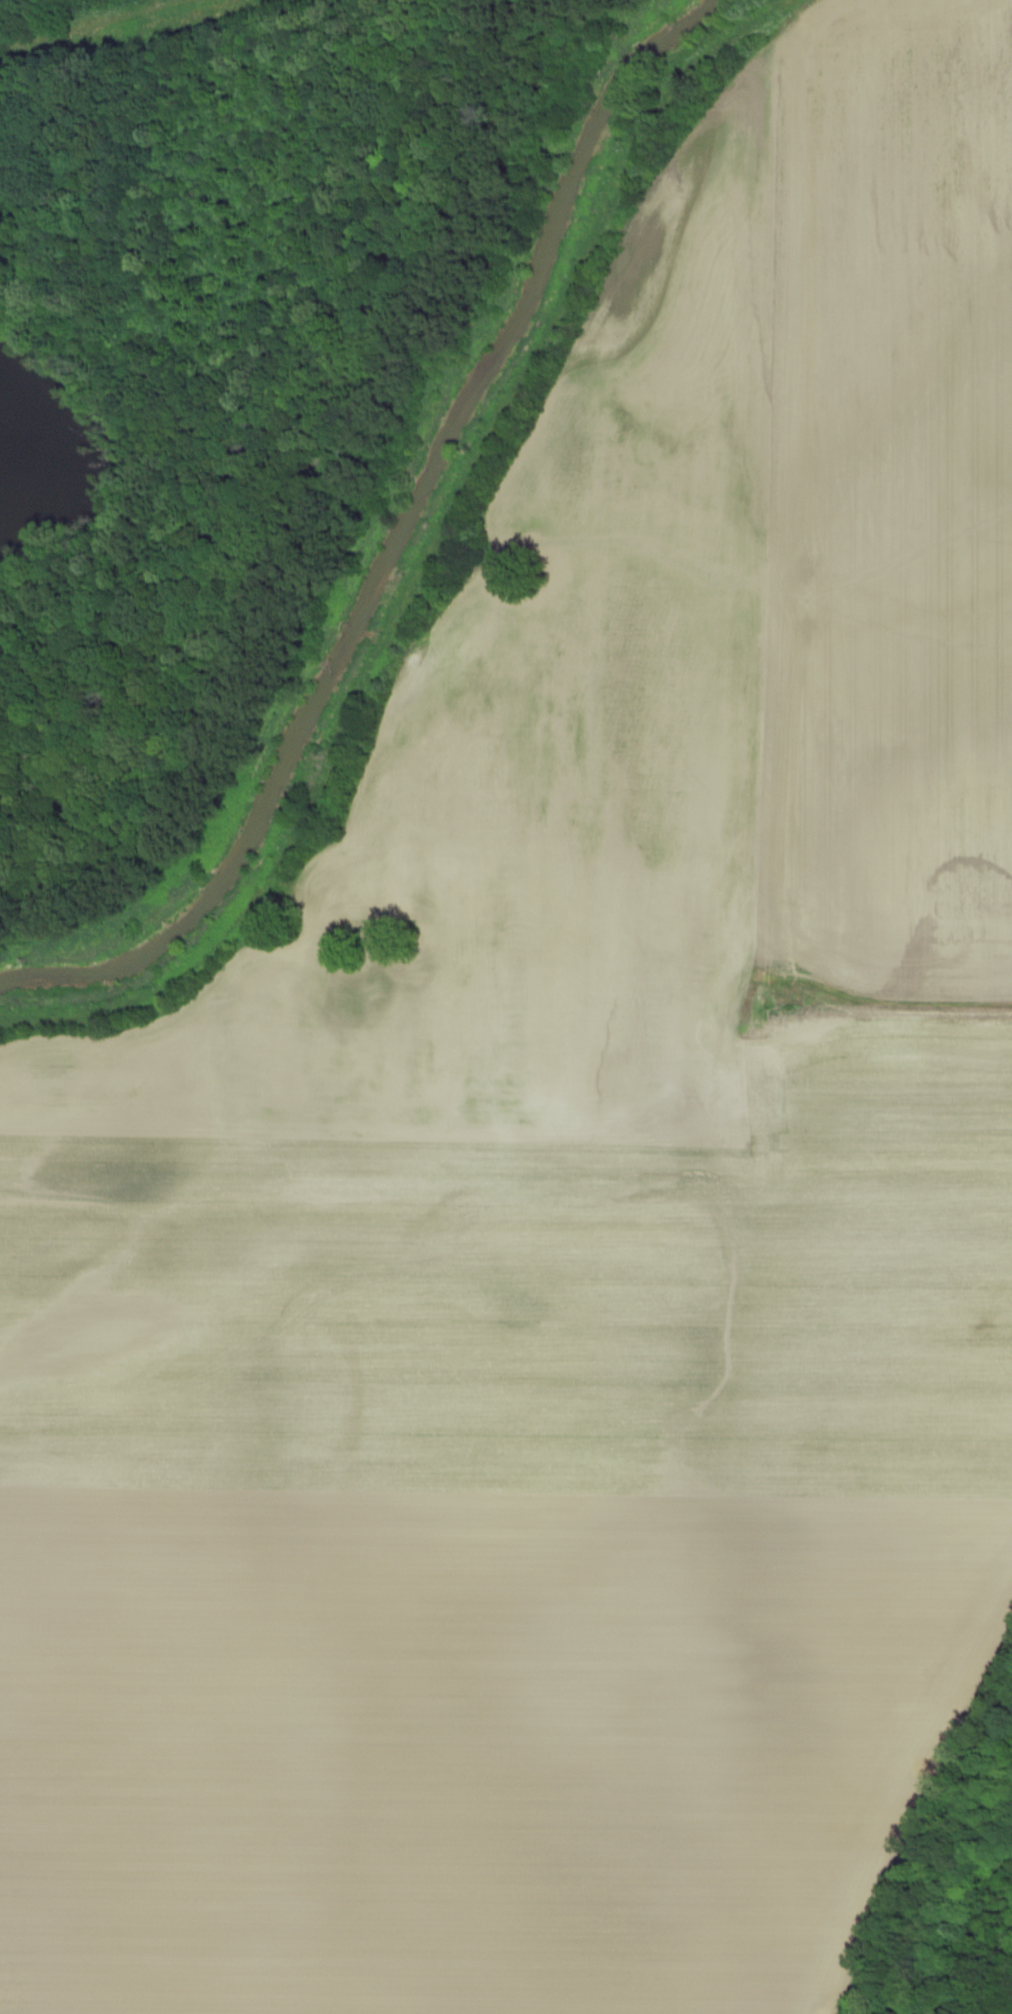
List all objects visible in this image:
river: (400, 539)
road: (920, 1827)
road: (881, 2000)

